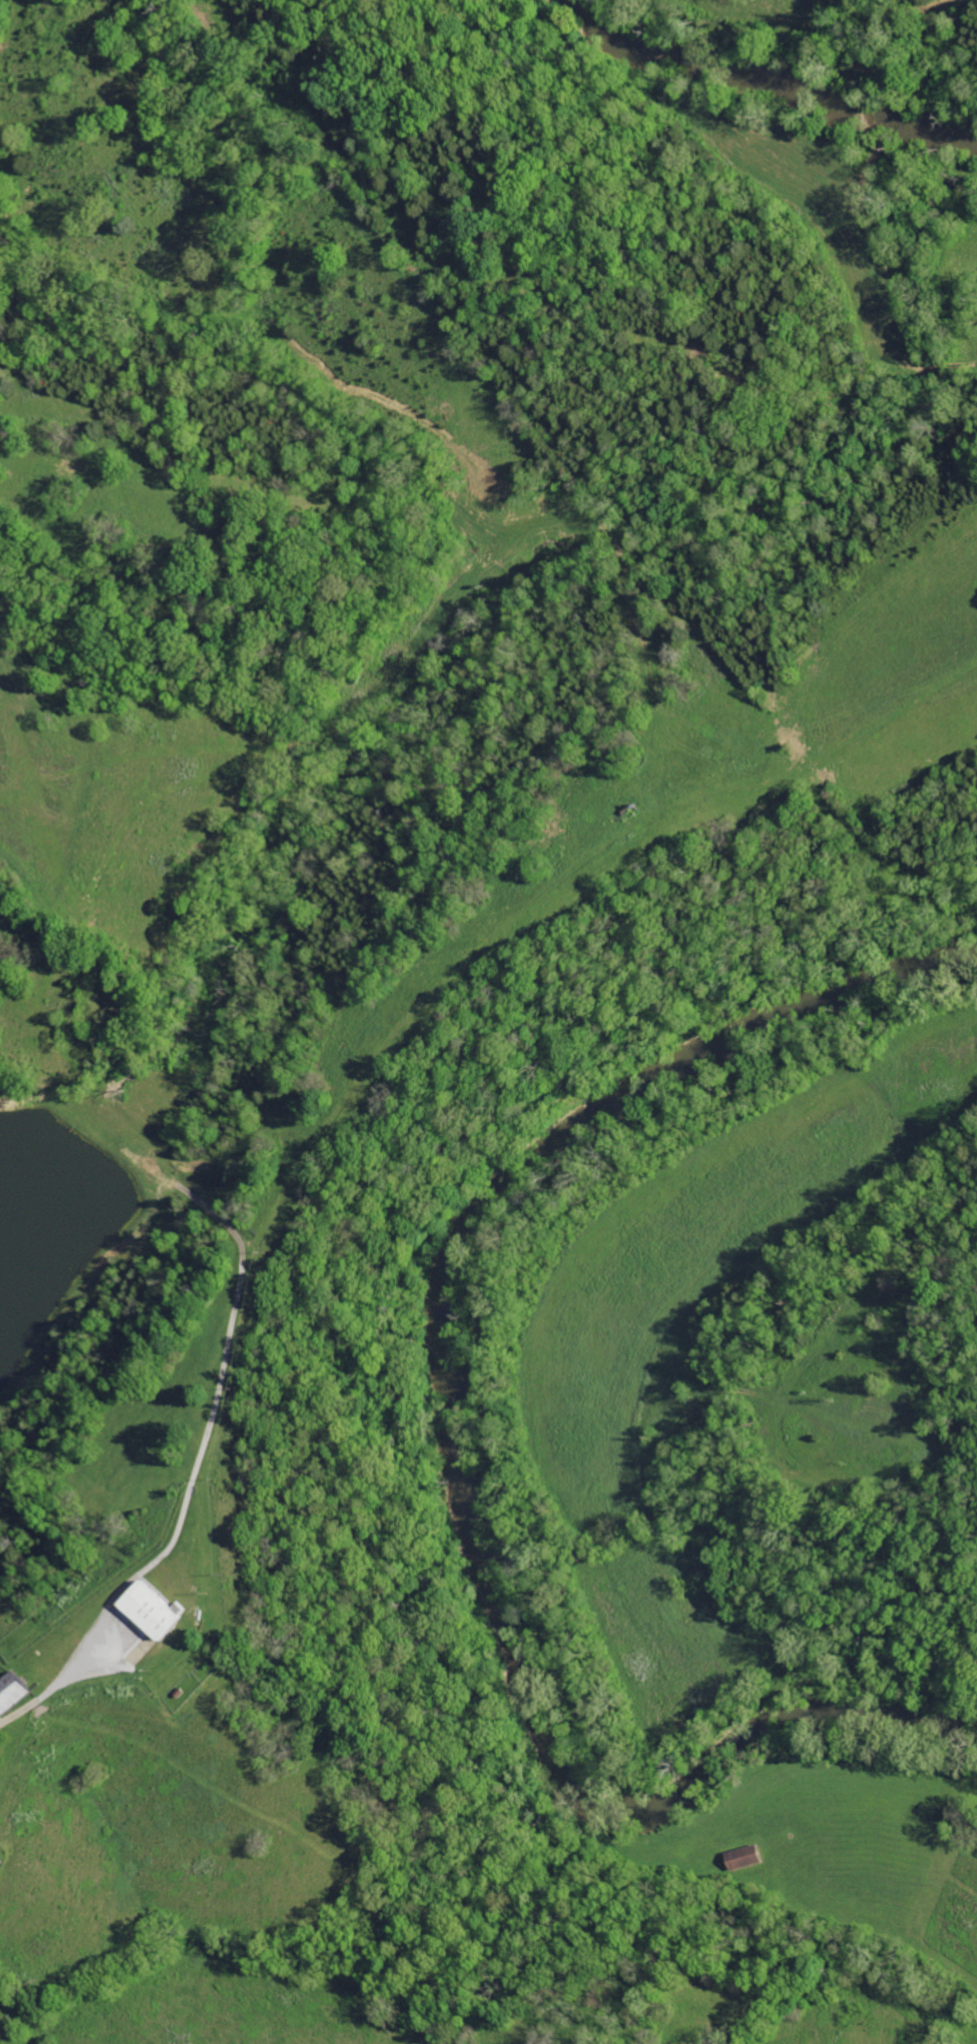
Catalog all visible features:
building: (151, 1613)
building: (10, 1692)
building: (179, 1695)

